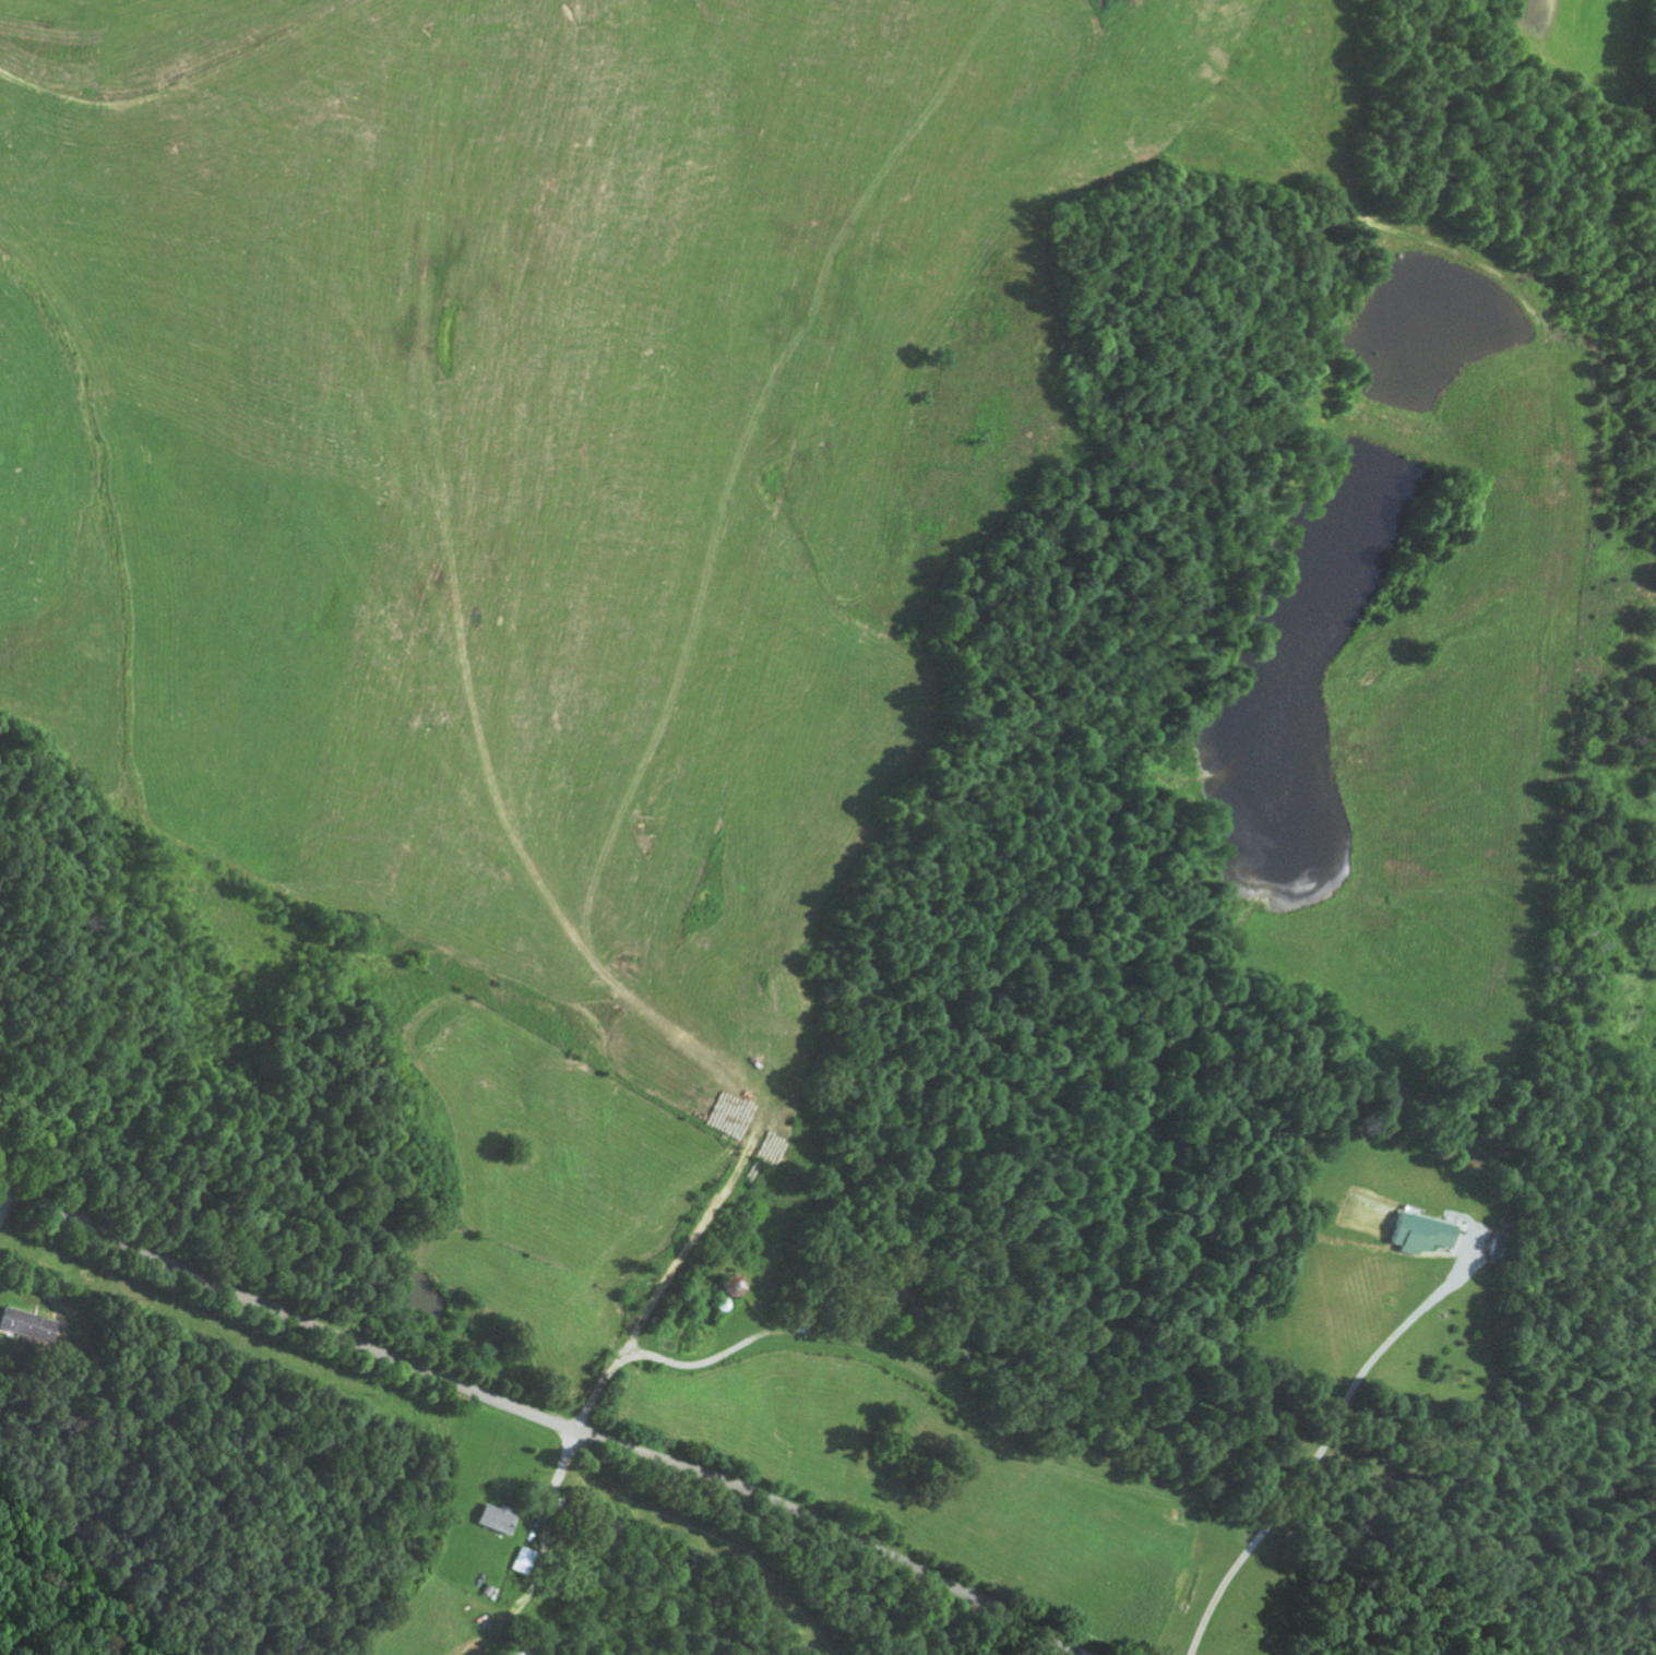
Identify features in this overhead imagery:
building: (1421, 1233)
building: (27, 1324)
road: (547, 1417)
building: (496, 1519)
building: (522, 1560)

